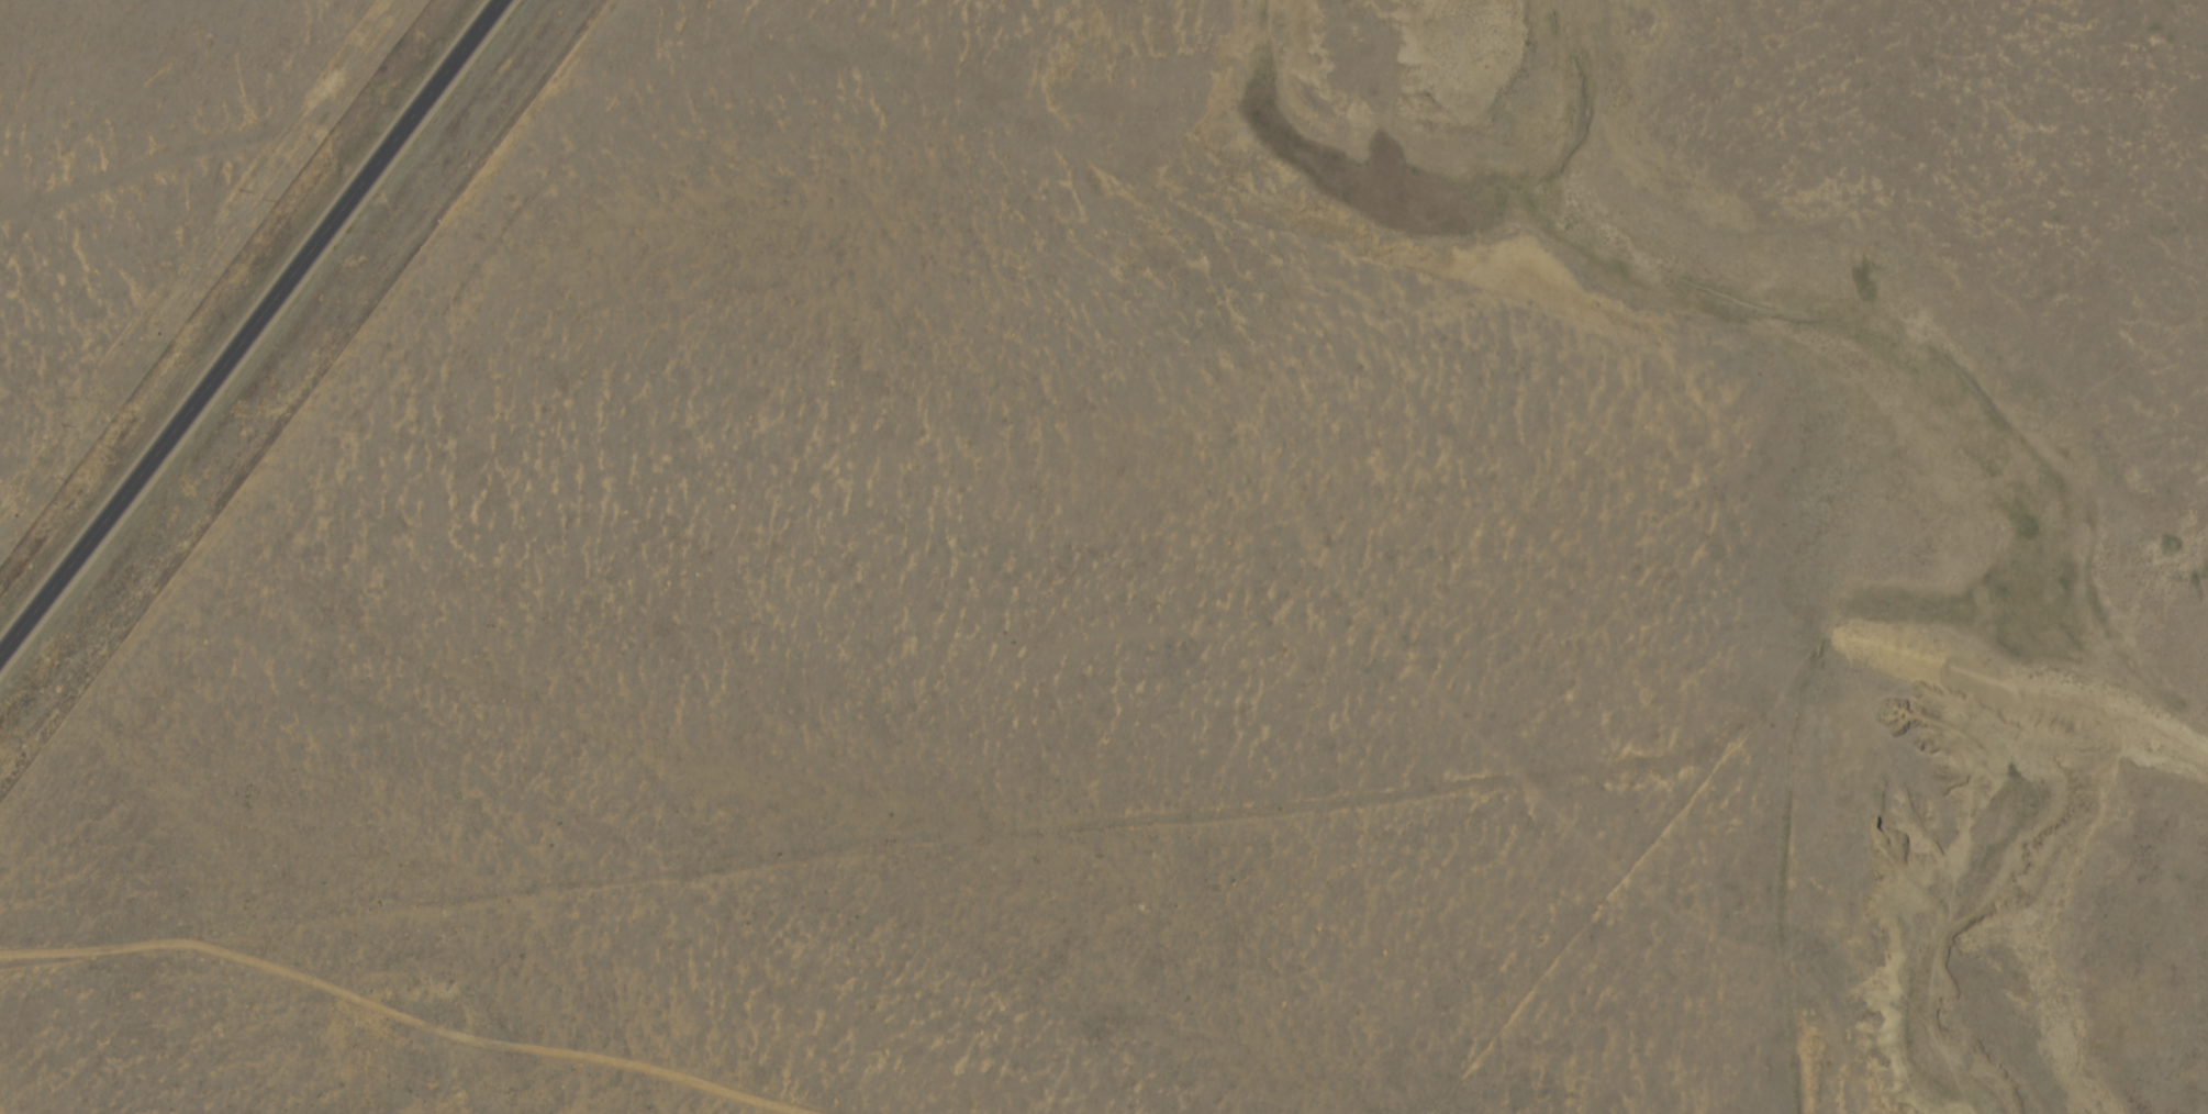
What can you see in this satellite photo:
road: (252, 330)
road: (404, 1025)

